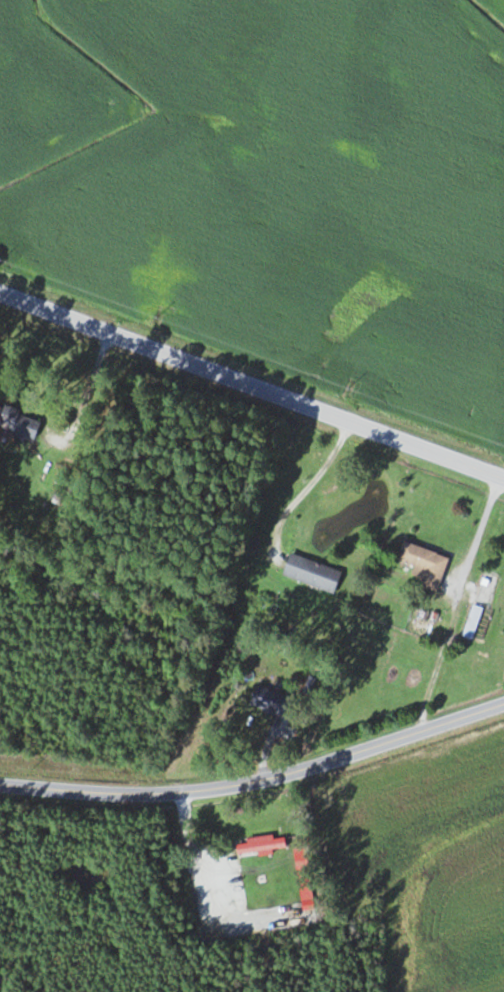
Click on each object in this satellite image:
road: (252, 385)
building: (424, 565)
building: (312, 574)
building: (472, 622)
building: (271, 701)
road: (257, 781)
building: (262, 848)

